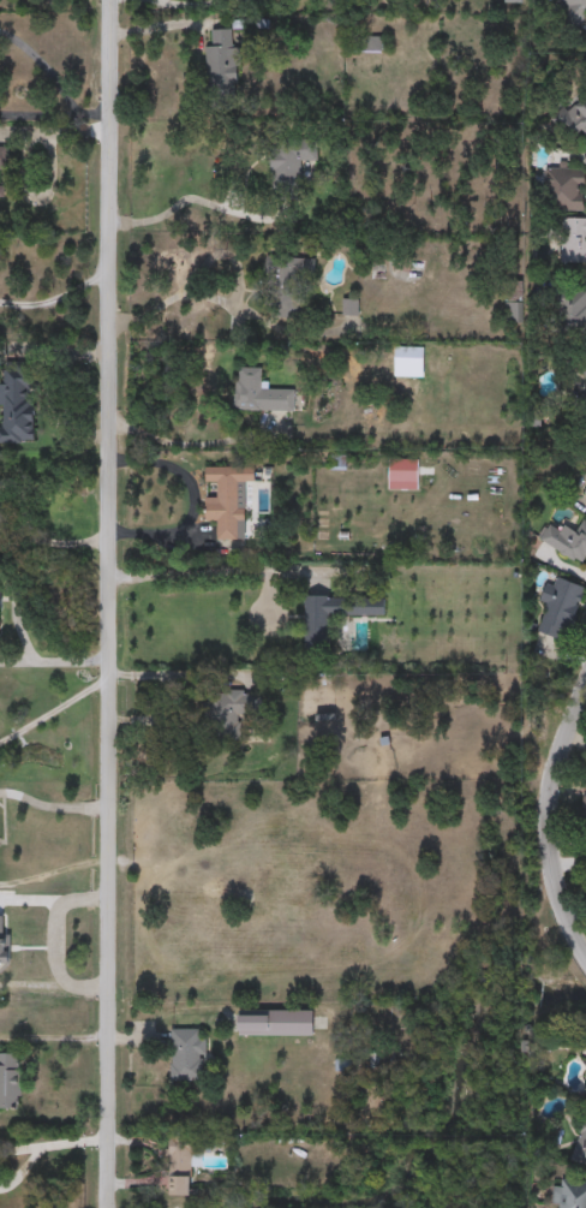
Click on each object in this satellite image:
road: (187, 5)
building: (575, 12)
road: (166, 24)
road: (44, 67)
building: (221, 71)
road: (40, 114)
road: (95, 115)
building: (576, 121)
road: (54, 132)
building: (2, 156)
building: (289, 165)
road: (36, 190)
building: (2, 191)
building: (566, 191)
road: (177, 200)
building: (574, 242)
building: (286, 284)
road: (58, 297)
road: (166, 302)
building: (567, 311)
building: (400, 357)
building: (585, 371)
building: (259, 393)
road: (47, 397)
building: (17, 405)
road: (196, 446)
building: (585, 493)
building: (226, 498)
road: (192, 499)
road: (56, 542)
building: (568, 542)
road: (214, 571)
building: (0, 599)
building: (441, 602)
road: (116, 603)
building: (561, 609)
building: (316, 632)
road: (58, 661)
road: (189, 677)
road: (59, 707)
building: (229, 713)
road: (161, 719)
road: (54, 803)
building: (585, 814)
road: (546, 817)
road: (55, 874)
road: (29, 900)
road: (55, 941)
building: (4, 947)
building: (276, 1022)
road: (53, 1039)
road: (139, 1039)
building: (185, 1053)
building: (10, 1079)
building: (585, 1099)
building: (585, 1103)
road: (76, 1141)
road: (20, 1145)
building: (580, 1148)
building: (186, 1152)
road: (161, 1164)
road: (24, 1168)
building: (180, 1185)
building: (570, 1194)

